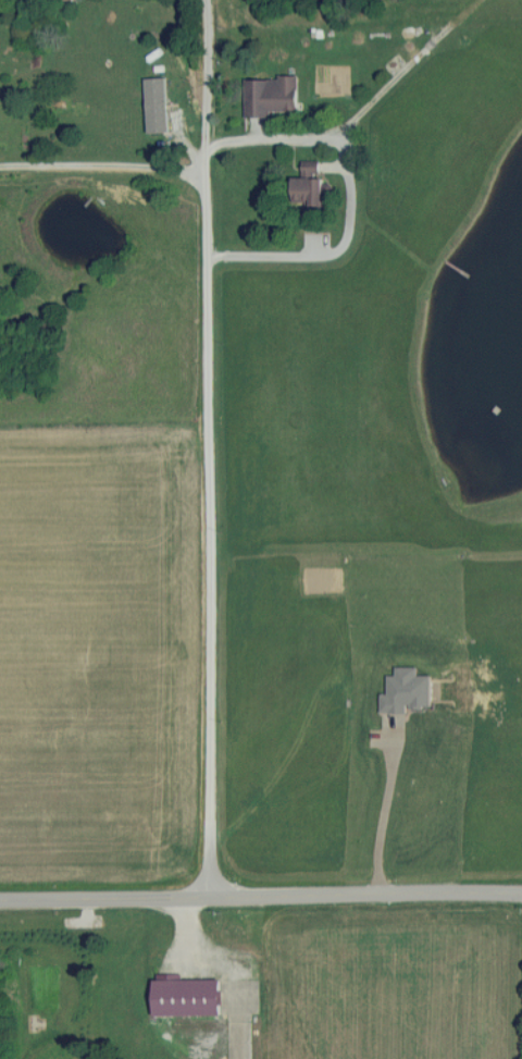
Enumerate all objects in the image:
road: (198, 77)
building: (156, 94)
building: (273, 96)
road: (252, 141)
road: (102, 165)
building: (310, 184)
road: (322, 247)
road: (207, 538)
road: (387, 806)
road: (261, 895)
building: (190, 997)

